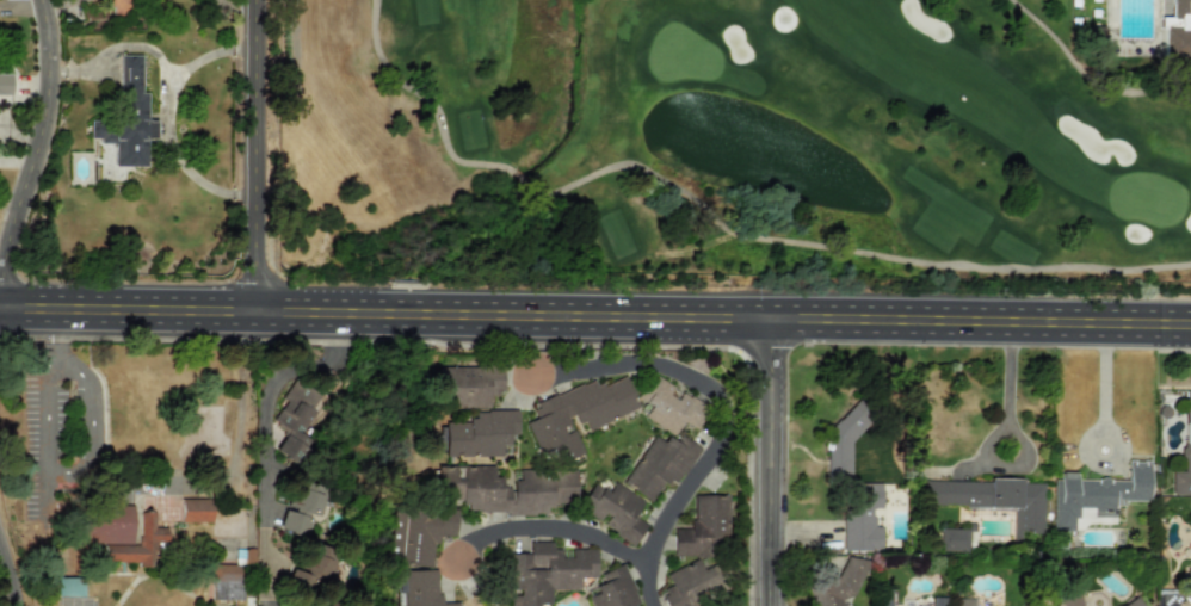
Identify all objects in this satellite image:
building: (118, 7)
building: (1178, 27)
road: (1086, 76)
building: (5, 84)
road: (428, 103)
building: (126, 118)
park: (739, 142)
road: (38, 144)
road: (257, 156)
road: (704, 243)
road: (846, 249)
road: (594, 316)
road: (50, 336)
road: (1006, 384)
building: (468, 385)
road: (239, 395)
building: (667, 406)
building: (575, 415)
road: (726, 416)
building: (292, 419)
building: (479, 433)
road: (266, 438)
building: (840, 441)
building: (1183, 462)
road: (771, 463)
building: (659, 465)
road: (70, 472)
building: (504, 489)
building: (1096, 493)
building: (991, 497)
building: (298, 507)
building: (193, 509)
building: (613, 511)
road: (548, 514)
building: (859, 517)
building: (702, 526)
building: (121, 533)
building: (415, 533)
building: (952, 539)
building: (310, 567)
building: (545, 573)
building: (1187, 576)
road: (8, 581)
building: (224, 581)
building: (687, 583)
building: (835, 583)
building: (67, 587)
building: (420, 588)
building: (613, 589)
building: (882, 596)
building: (1067, 598)
building: (1187, 599)
building: (936, 600)
building: (962, 601)
building: (1131, 602)
building: (329, 604)

